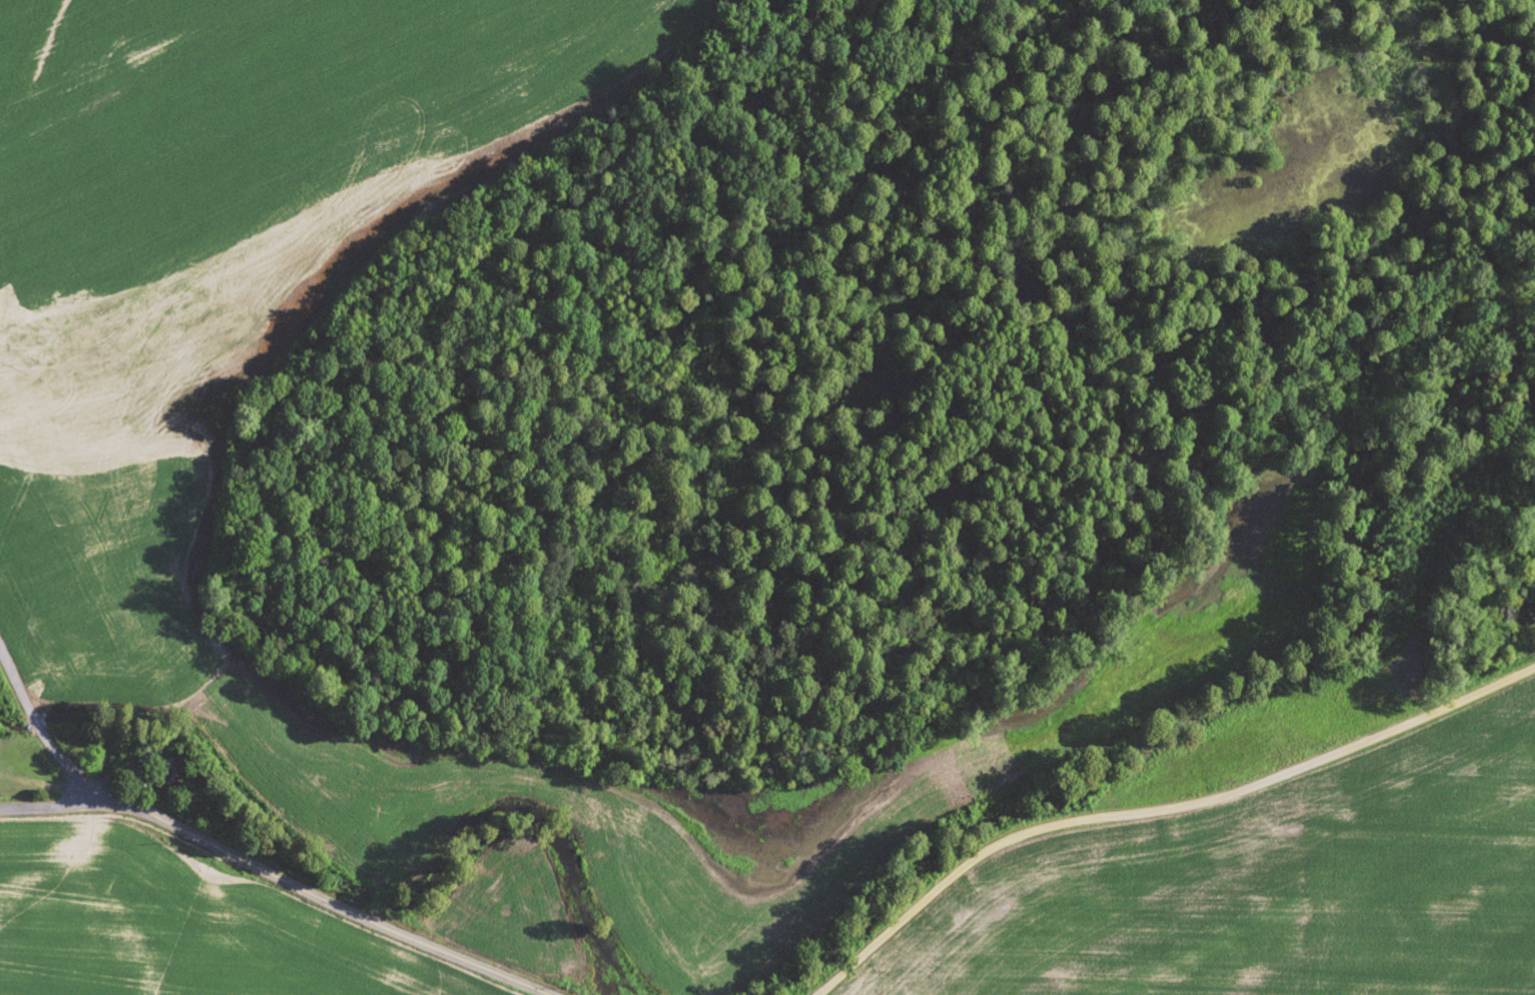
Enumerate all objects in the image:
road: (47, 735)
road: (1163, 805)
road: (62, 806)
road: (336, 903)

